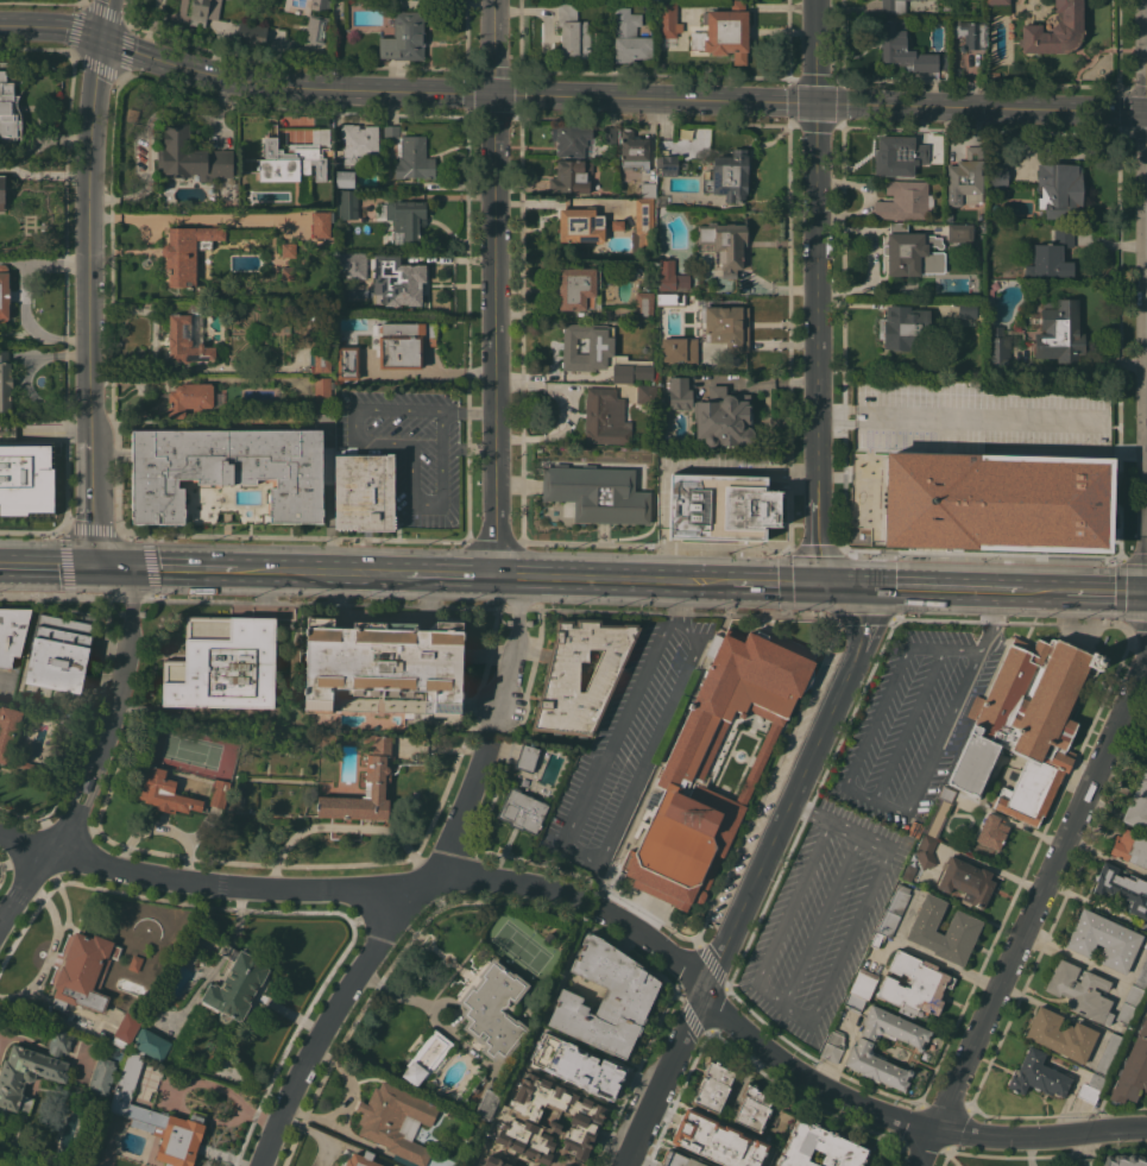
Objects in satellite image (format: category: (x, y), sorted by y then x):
building: (997, 1)
building: (321, 4)
building: (894, 6)
building: (204, 11)
building: (668, 18)
road: (109, 21)
building: (316, 29)
building: (1055, 29)
road: (53, 30)
building: (573, 32)
building: (725, 32)
building: (252, 33)
building: (970, 33)
building: (405, 37)
building: (630, 37)
traffic signals: (107, 43)
building: (907, 50)
road: (1146, 56)
building: (994, 75)
traffic signals: (493, 95)
road: (624, 97)
traffic signals: (817, 102)
building: (8, 112)
traffic signals: (1146, 112)
road: (96, 113)
building: (391, 132)
building: (609, 134)
building: (571, 139)
building: (360, 144)
building: (634, 150)
building: (899, 155)
building: (193, 156)
building: (290, 158)
building: (415, 158)
building: (668, 164)
road: (45, 174)
building: (729, 175)
building: (572, 176)
building: (965, 176)
building: (997, 176)
building: (345, 178)
building: (648, 189)
building: (1060, 190)
building: (2, 193)
building: (616, 193)
building: (905, 201)
road: (560, 203)
building: (348, 204)
road: (198, 219)
building: (408, 220)
building: (322, 223)
building: (582, 225)
building: (618, 225)
building: (643, 227)
building: (960, 232)
building: (724, 245)
building: (289, 250)
building: (908, 250)
building: (188, 251)
building: (1052, 256)
road: (13, 261)
building: (353, 264)
building: (289, 273)
building: (672, 277)
building: (403, 283)
building: (579, 286)
road: (494, 288)
building: (4, 292)
road: (818, 292)
road: (25, 296)
building: (667, 298)
building: (644, 307)
building: (969, 309)
building: (726, 326)
building: (906, 328)
building: (1059, 332)
building: (187, 341)
building: (403, 342)
building: (997, 348)
building: (680, 351)
building: (599, 354)
building: (323, 361)
building: (348, 364)
road: (94, 376)
building: (5, 380)
road: (760, 382)
building: (323, 387)
building: (674, 391)
building: (645, 393)
building: (190, 398)
road: (469, 409)
building: (323, 410)
building: (606, 417)
building: (724, 418)
road: (958, 420)
road: (61, 431)
road: (411, 446)
building: (227, 469)
building: (26, 478)
building: (365, 492)
building: (598, 492)
building: (997, 502)
building: (721, 508)
road: (46, 566)
traffic signals: (95, 567)
road: (113, 567)
traffic signals: (132, 568)
road: (188, 568)
road: (323, 572)
road: (450, 575)
road: (611, 579)
road: (773, 585)
traffic signals: (820, 586)
road: (849, 587)
traffic signals: (877, 588)
road: (939, 590)
road: (1011, 592)
road: (1042, 592)
road: (1104, 593)
road: (678, 599)
road: (990, 622)
building: (12, 634)
road: (517, 643)
road: (944, 649)
building: (61, 653)
building: (384, 660)
building: (222, 664)
road: (120, 677)
building: (561, 680)
road: (875, 718)
building: (1027, 724)
road: (909, 726)
road: (941, 735)
building: (11, 736)
building: (528, 756)
building: (683, 773)
building: (378, 776)
building: (86, 784)
building: (165, 793)
building: (220, 793)
building: (241, 793)
building: (947, 794)
road: (872, 802)
building: (1137, 805)
building: (523, 809)
road: (345, 825)
road: (840, 825)
road: (163, 826)
building: (915, 828)
building: (992, 831)
building: (1130, 847)
building: (926, 851)
road: (592, 853)
road: (46, 856)
building: (909, 871)
road: (756, 878)
building: (966, 881)
road: (599, 882)
road: (283, 888)
building: (1122, 888)
building: (894, 910)
road: (1034, 914)
road: (784, 915)
road: (820, 916)
building: (964, 926)
building: (877, 939)
building: (1104, 939)
road: (842, 951)
road: (371, 953)
building: (136, 963)
building: (84, 972)
building: (1142, 976)
building: (235, 983)
building: (864, 983)
building: (915, 984)
building: (1080, 990)
building: (607, 998)
building: (855, 1002)
building: (1130, 1004)
building: (494, 1010)
building: (894, 1027)
building: (126, 1029)
building: (1061, 1034)
building: (152, 1044)
building: (834, 1046)
building: (1109, 1054)
building: (427, 1057)
building: (876, 1065)
building: (578, 1066)
building: (107, 1067)
building: (1133, 1070)
building: (31, 1072)
building: (1038, 1074)
building: (713, 1086)
building: (1091, 1088)
road: (843, 1097)
building: (489, 1103)
building: (754, 1109)
building: (150, 1120)
building: (396, 1120)
building: (549, 1121)
building: (466, 1129)
building: (718, 1140)
building: (820, 1146)
building: (361, 1159)
building: (679, 1160)
building: (1124, 1160)
building: (496, 1161)
building: (5, 1165)
building: (568, 1165)

